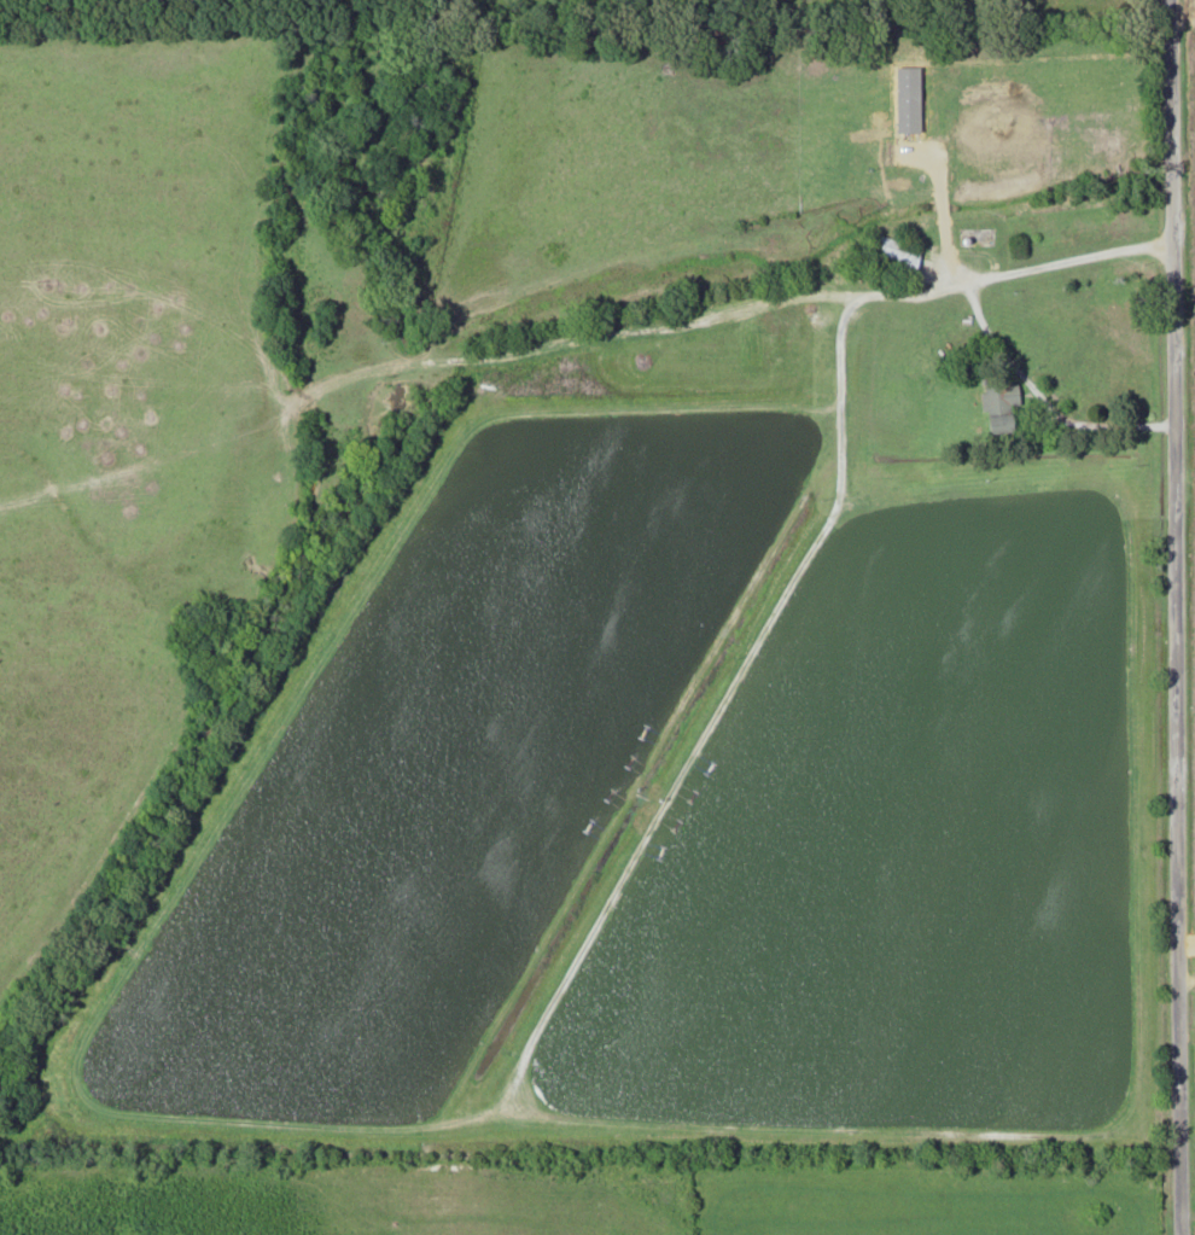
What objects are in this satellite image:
building: (897, 252)
building: (809, 346)
building: (1002, 400)

